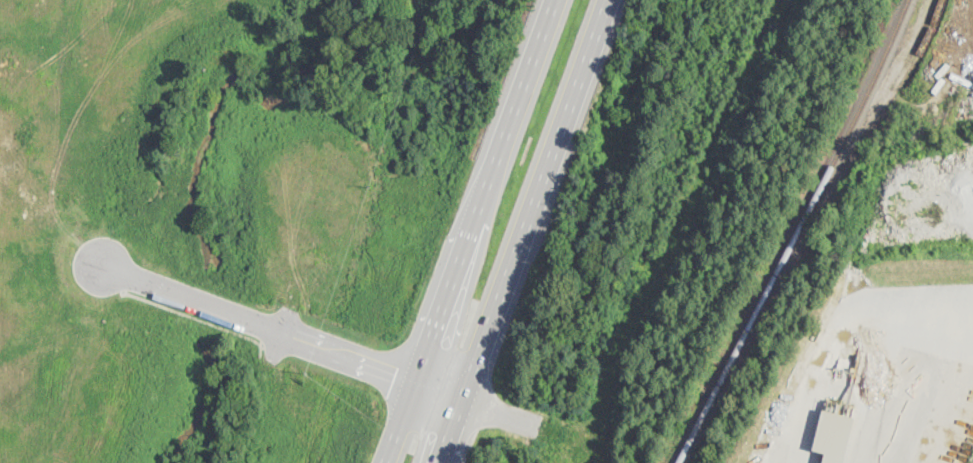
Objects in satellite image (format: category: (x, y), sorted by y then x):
railway: (865, 127)
road: (477, 212)
road: (524, 231)
railway: (797, 233)
road: (198, 318)
road: (836, 325)
road: (285, 331)
road: (935, 413)
building: (834, 436)
road: (392, 444)

